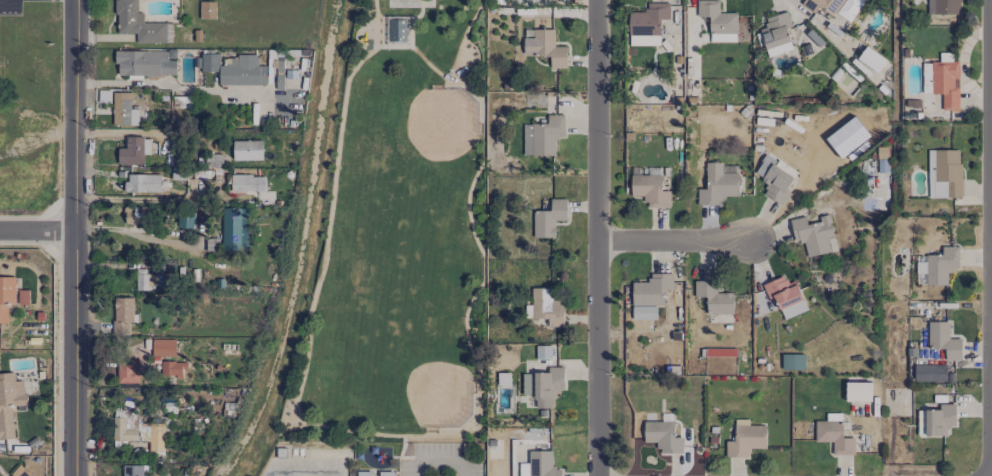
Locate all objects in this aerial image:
building: (834, 7)
building: (944, 7)
building: (717, 17)
building: (648, 19)
building: (137, 24)
building: (397, 30)
building: (776, 34)
building: (722, 37)
building: (644, 40)
building: (547, 48)
building: (871, 59)
building: (210, 62)
building: (144, 63)
building: (242, 70)
building: (946, 83)
road: (173, 85)
building: (123, 110)
road: (75, 116)
building: (543, 136)
building: (247, 150)
building: (131, 151)
building: (930, 166)
building: (947, 173)
building: (143, 183)
building: (246, 183)
building: (718, 184)
building: (776, 184)
building: (650, 190)
building: (138, 215)
building: (549, 218)
building: (235, 229)
road: (37, 232)
building: (813, 234)
road: (598, 238)
road: (151, 239)
park: (403, 239)
road: (675, 240)
building: (937, 266)
building: (149, 279)
building: (651, 289)
building: (9, 296)
building: (785, 296)
building: (714, 297)
building: (547, 307)
building: (644, 312)
building: (122, 313)
building: (943, 340)
building: (163, 347)
building: (543, 352)
road: (76, 354)
building: (717, 356)
building: (793, 361)
building: (172, 368)
building: (127, 371)
building: (931, 373)
building: (544, 385)
building: (858, 391)
building: (9, 402)
building: (936, 420)
building: (137, 433)
building: (834, 434)
building: (662, 436)
road: (440, 464)
building: (539, 465)
building: (132, 470)
road: (417, 470)
road: (464, 470)
building: (367, 473)
building: (386, 473)

